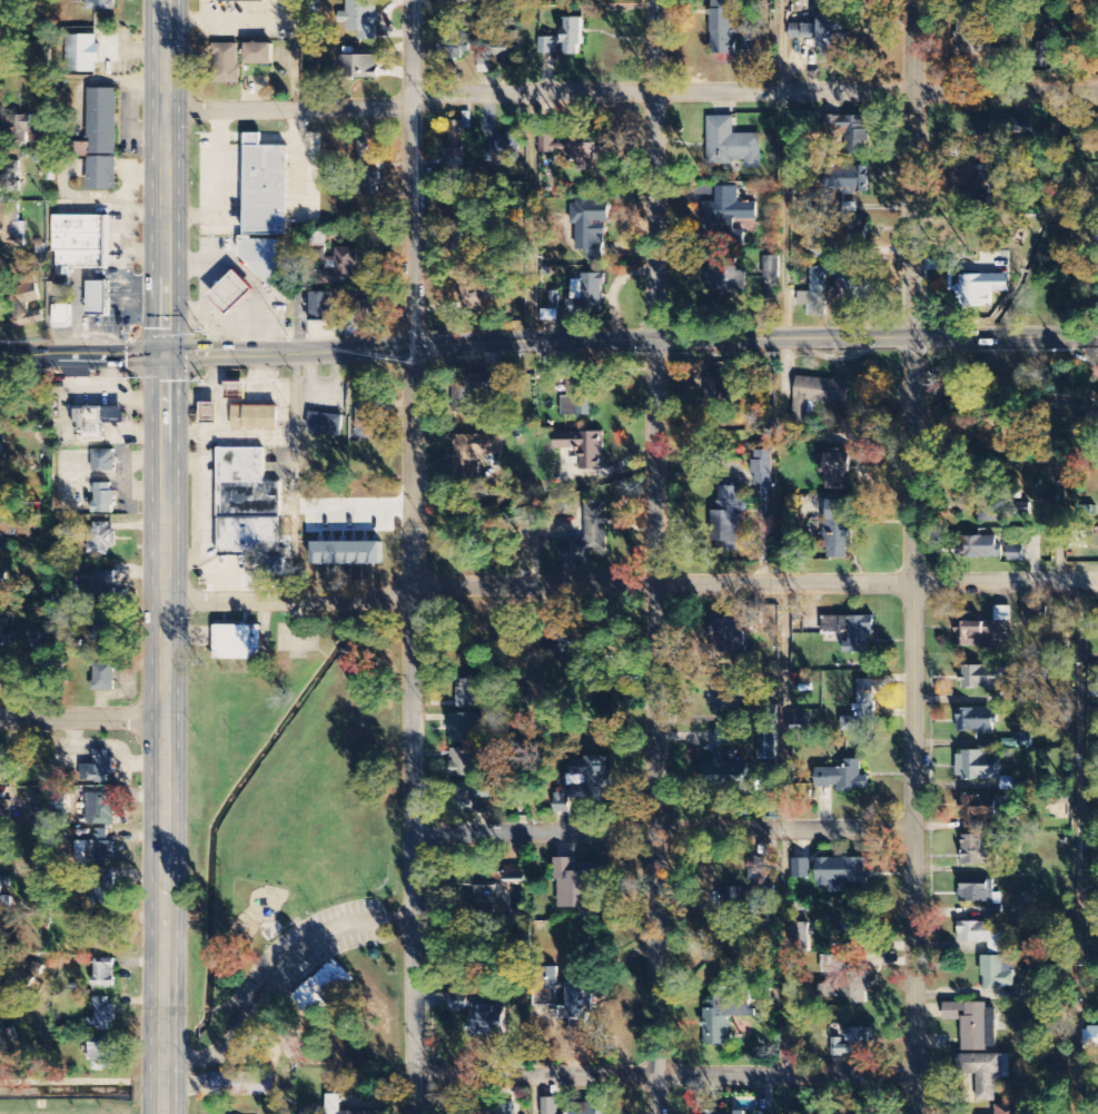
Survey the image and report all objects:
building: (244, 1)
building: (6, 4)
building: (97, 4)
building: (970, 14)
building: (362, 19)
building: (1042, 23)
building: (730, 30)
building: (824, 33)
building: (564, 39)
building: (504, 45)
building: (454, 46)
building: (82, 53)
building: (258, 53)
building: (1041, 57)
building: (227, 63)
building: (486, 66)
building: (358, 67)
road: (754, 93)
road: (289, 109)
building: (1000, 129)
building: (18, 130)
building: (457, 136)
building: (848, 136)
building: (102, 139)
building: (732, 144)
building: (507, 148)
building: (582, 150)
building: (9, 174)
building: (369, 178)
building: (847, 180)
building: (982, 185)
building: (265, 188)
road: (912, 195)
building: (729, 213)
building: (591, 226)
road: (655, 229)
building: (855, 230)
building: (80, 241)
building: (264, 258)
building: (343, 269)
building: (726, 279)
building: (851, 287)
building: (981, 289)
building: (817, 290)
building: (230, 293)
building: (590, 297)
building: (1097, 297)
building: (98, 299)
building: (26, 303)
building: (320, 307)
building: (364, 309)
building: (62, 315)
road: (548, 346)
traffic signals: (166, 355)
building: (718, 372)
building: (718, 390)
building: (476, 391)
building: (580, 397)
road: (913, 404)
building: (209, 413)
building: (255, 418)
building: (368, 420)
building: (98, 421)
building: (325, 424)
building: (583, 447)
building: (473, 453)
building: (103, 462)
road: (655, 469)
building: (835, 469)
building: (763, 473)
building: (103, 499)
building: (247, 505)
building: (1001, 512)
building: (729, 521)
building: (590, 535)
building: (837, 535)
building: (1, 539)
building: (100, 540)
building: (1079, 541)
building: (979, 548)
building: (1016, 554)
road: (165, 556)
road: (409, 556)
building: (2, 585)
building: (99, 585)
road: (753, 585)
road: (287, 599)
building: (1002, 614)
building: (6, 629)
building: (100, 629)
building: (851, 631)
building: (976, 634)
building: (728, 639)
building: (237, 643)
building: (565, 653)
building: (2, 676)
building: (103, 678)
building: (982, 678)
building: (468, 694)
building: (726, 696)
building: (862, 710)
road: (82, 718)
building: (975, 721)
building: (464, 729)
building: (1023, 741)
building: (2, 763)
building: (463, 763)
road: (913, 765)
building: (977, 767)
building: (98, 769)
building: (724, 776)
building: (843, 778)
building: (588, 780)
building: (1007, 783)
road: (652, 796)
building: (475, 797)
building: (561, 804)
building: (4, 808)
building: (100, 809)
building: (978, 811)
road: (663, 829)
road: (1078, 848)
road: (783, 849)
building: (97, 850)
park: (296, 850)
building: (979, 851)
building: (802, 869)
building: (842, 871)
building: (465, 880)
building: (103, 888)
building: (576, 888)
building: (6, 891)
building: (486, 891)
building: (980, 894)
building: (975, 934)
building: (800, 939)
building: (834, 964)
parking lot: (298, 965)
building: (998, 973)
building: (103, 974)
road: (276, 976)
building: (330, 982)
building: (546, 987)
building: (854, 989)
building: (6, 990)
building: (1013, 993)
building: (309, 1002)
building: (458, 1004)
building: (577, 1004)
building: (101, 1016)
building: (725, 1016)
building: (487, 1019)
building: (969, 1025)
building: (1090, 1039)
building: (853, 1043)
building: (101, 1055)
building: (985, 1073)
road: (664, 1075)
building: (241, 1085)
road: (533, 1094)
building: (337, 1105)
building: (550, 1106)
building: (507, 1108)
building: (588, 1108)
building: (310, 1110)
building: (1011, 1110)
building: (733, 1113)
building: (764, 1113)

